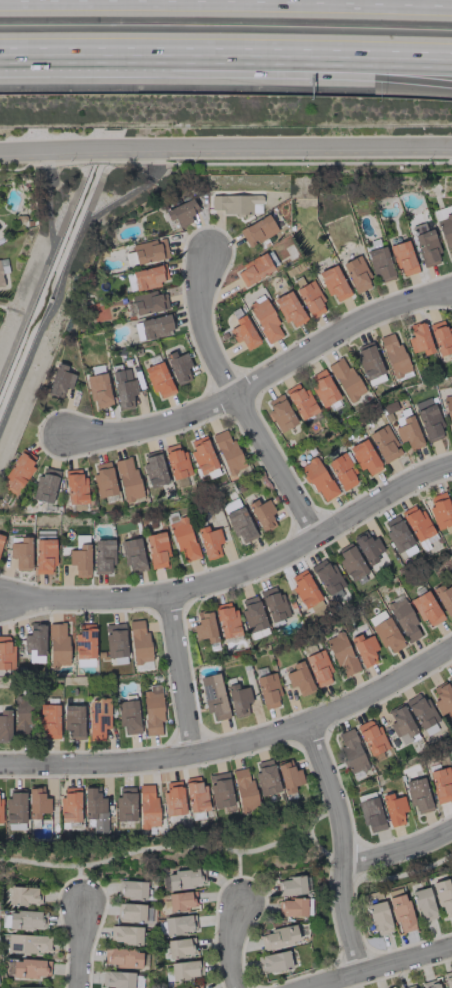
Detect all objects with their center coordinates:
road: (53, 54)
road: (279, 59)
road: (278, 74)
road: (226, 145)
building: (236, 203)
building: (180, 210)
building: (257, 230)
building: (447, 233)
building: (425, 245)
building: (149, 250)
building: (403, 258)
building: (379, 263)
road: (45, 265)
building: (256, 268)
road: (64, 270)
building: (356, 274)
building: (148, 277)
building: (333, 283)
building: (310, 299)
building: (149, 302)
building: (289, 309)
road: (12, 310)
building: (264, 319)
building: (152, 327)
building: (243, 332)
building: (441, 337)
building: (418, 339)
building: (393, 355)
building: (368, 363)
building: (178, 366)
road: (264, 377)
building: (59, 380)
building: (158, 380)
building: (345, 380)
building: (123, 388)
building: (322, 388)
building: (98, 389)
road: (236, 398)
building: (299, 400)
building: (448, 408)
building: (279, 413)
building: (427, 418)
building: (384, 443)
building: (227, 451)
building: (201, 455)
building: (364, 457)
building: (176, 461)
building: (153, 468)
building: (342, 471)
building: (17, 472)
building: (127, 478)
building: (318, 479)
building: (103, 480)
building: (45, 485)
building: (451, 490)
building: (440, 511)
building: (261, 514)
building: (237, 521)
building: (416, 522)
building: (1, 538)
building: (183, 539)
building: (209, 542)
building: (367, 547)
building: (156, 549)
building: (21, 553)
building: (44, 555)
building: (103, 555)
building: (132, 555)
building: (80, 560)
building: (350, 562)
road: (237, 572)
building: (328, 580)
building: (304, 589)
building: (444, 598)
building: (273, 604)
building: (426, 609)
building: (252, 613)
building: (226, 620)
building: (404, 620)
building: (204, 626)
building: (387, 635)
building: (34, 642)
building: (84, 642)
building: (115, 642)
building: (139, 642)
building: (57, 644)
building: (364, 649)
building: (6, 653)
building: (341, 654)
building: (318, 668)
road: (182, 672)
building: (450, 677)
building: (299, 678)
building: (268, 691)
building: (213, 696)
building: (238, 699)
building: (442, 699)
building: (152, 711)
building: (22, 716)
building: (97, 717)
building: (128, 717)
building: (48, 721)
building: (73, 721)
building: (400, 723)
building: (4, 725)
building: (371, 738)
road: (235, 741)
building: (351, 752)
building: (265, 777)
building: (288, 777)
building: (440, 785)
building: (219, 789)
building: (244, 790)
building: (195, 794)
building: (418, 795)
building: (172, 798)
building: (36, 802)
building: (124, 804)
building: (69, 805)
building: (146, 806)
building: (94, 808)
building: (393, 808)
building: (15, 809)
building: (0, 810)
building: (371, 814)
road: (341, 843)
road: (154, 847)
road: (397, 850)
road: (355, 872)
road: (237, 876)
building: (185, 878)
road: (80, 884)
building: (292, 885)
building: (131, 889)
building: (22, 895)
building: (444, 897)
building: (180, 900)
building: (422, 903)
building: (291, 907)
building: (399, 909)
building: (131, 912)
building: (378, 916)
building: (26, 920)
building: (178, 924)
building: (124, 934)
building: (277, 937)
building: (28, 943)
road: (232, 944)
road: (81, 945)
building: (179, 947)
building: (122, 957)
building: (273, 961)
road: (375, 964)
building: (30, 968)
building: (185, 969)
building: (448, 979)
building: (122, 980)
road: (334, 983)
building: (430, 984)
building: (410, 986)
building: (33, 987)
building: (197, 987)

